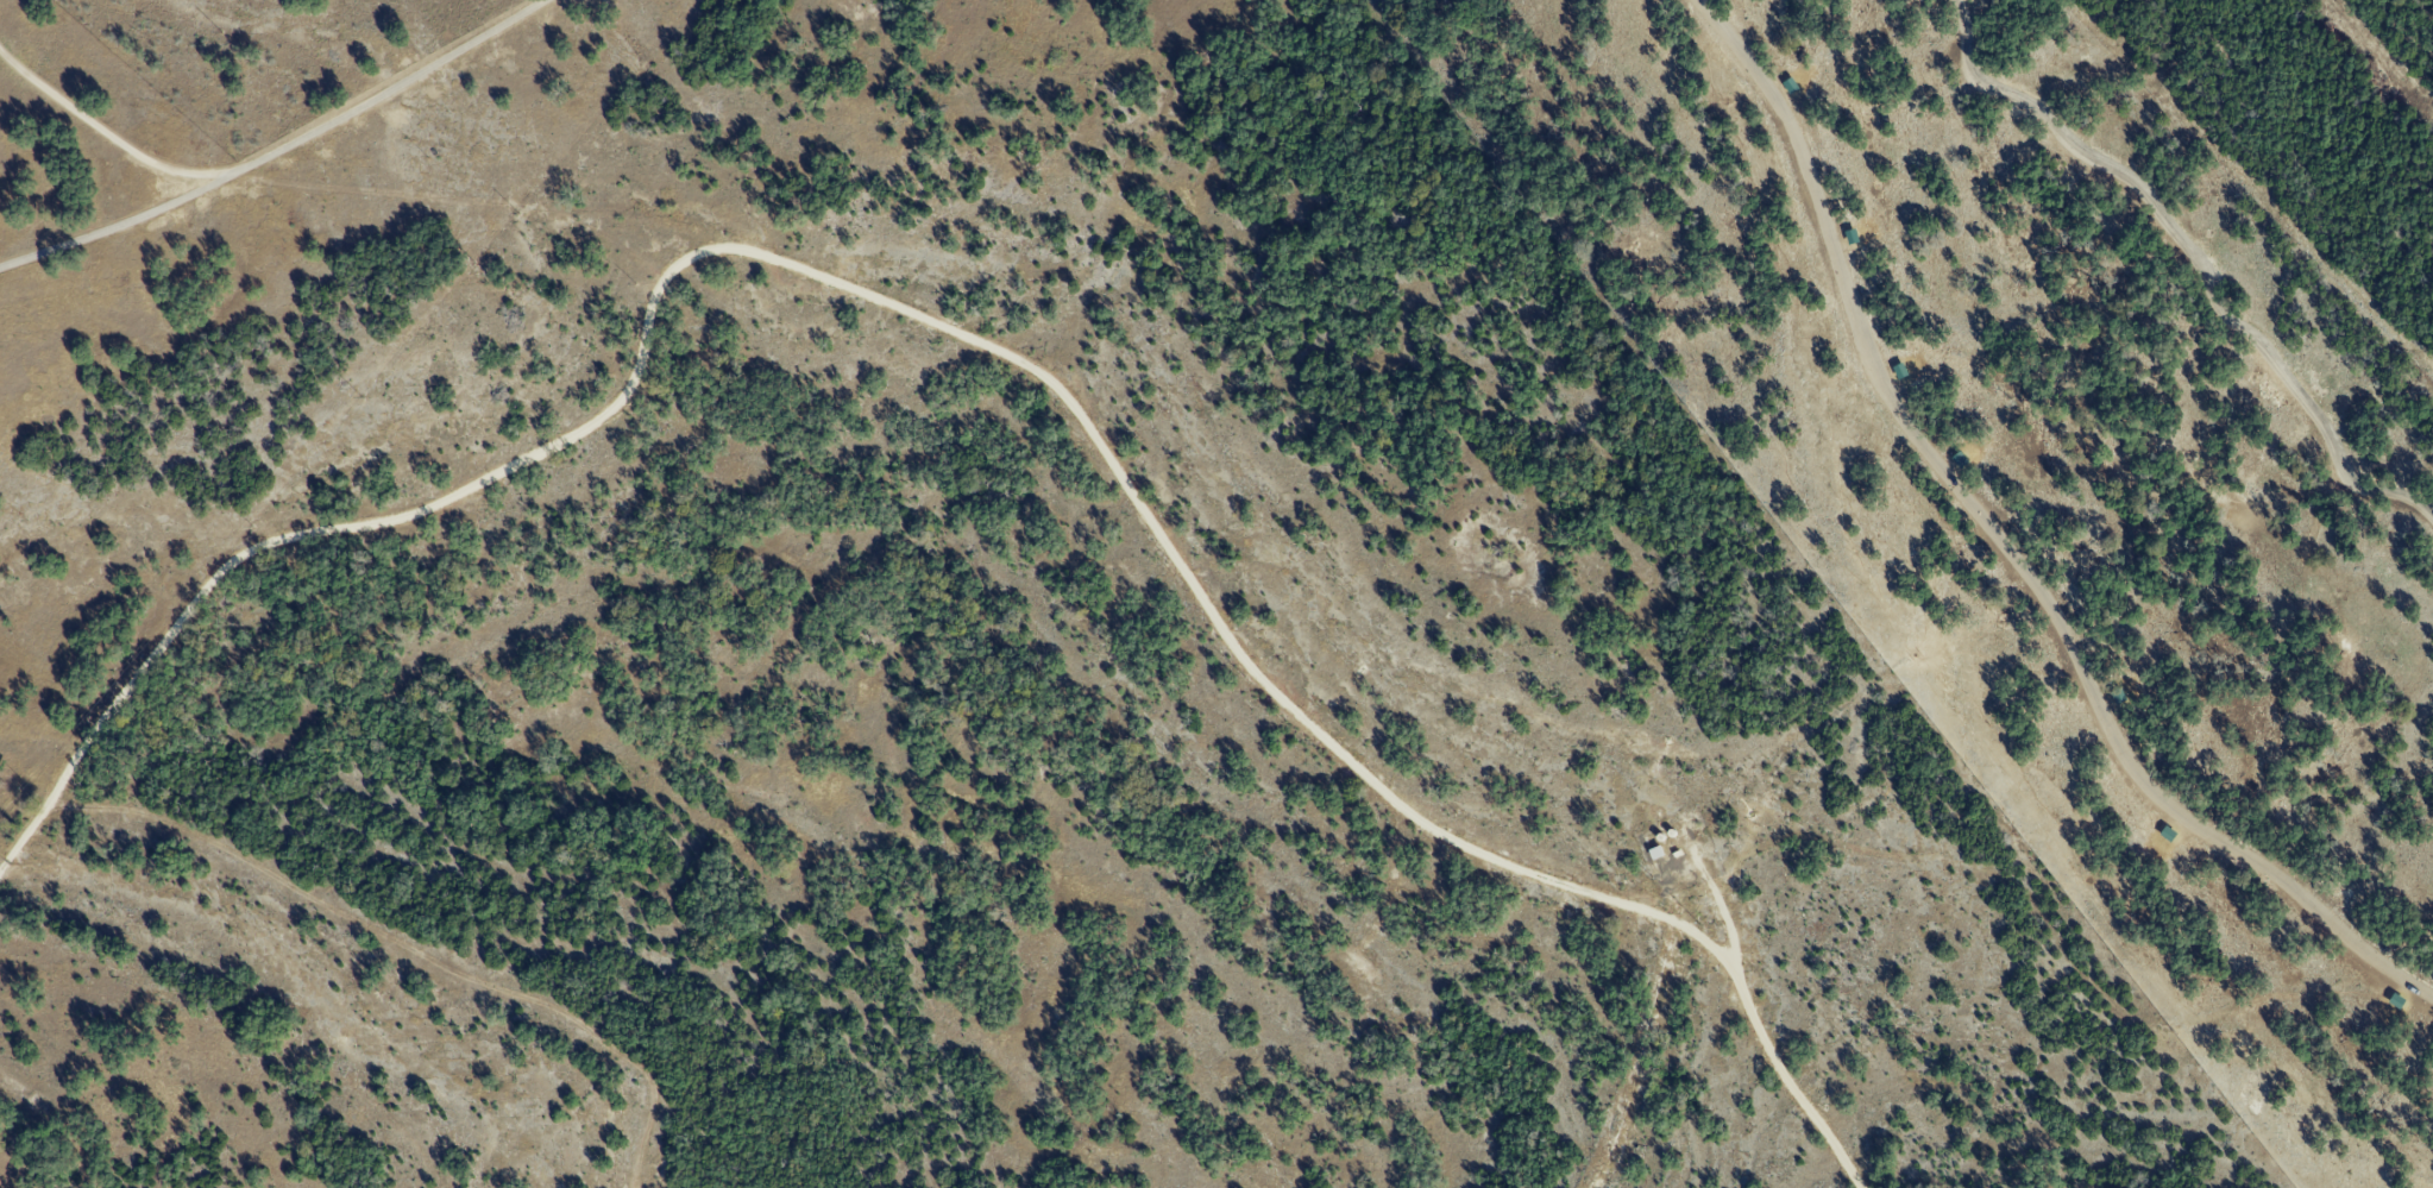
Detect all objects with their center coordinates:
road: (111, 139)
road: (278, 149)
road: (2193, 259)
road: (967, 337)
road: (2001, 548)

